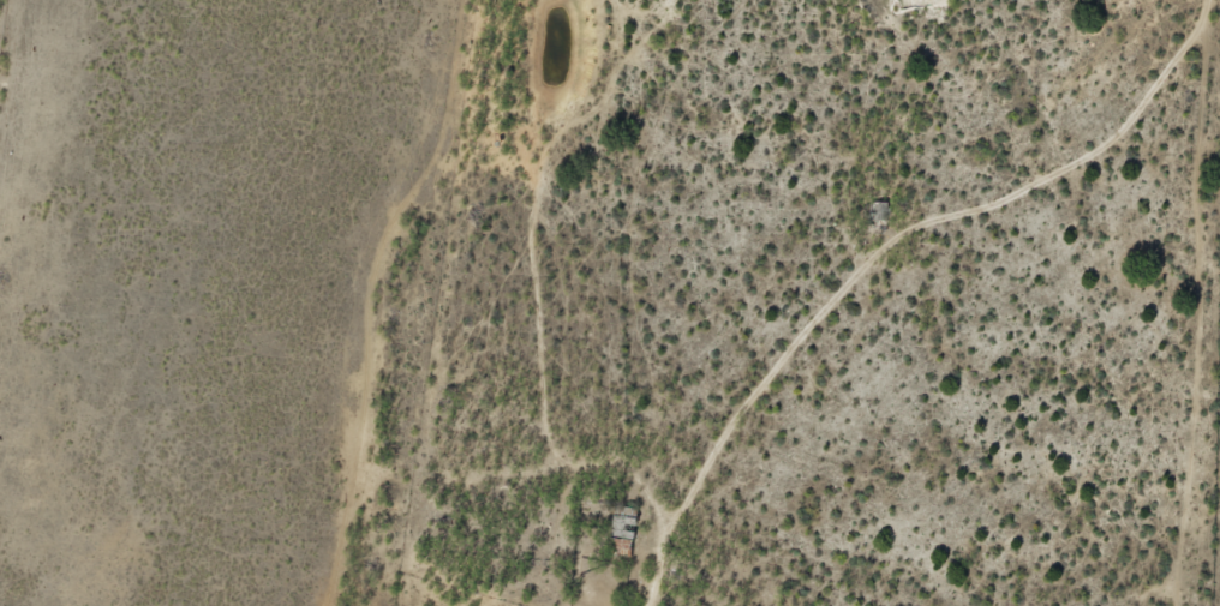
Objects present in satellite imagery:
road: (937, 232)

